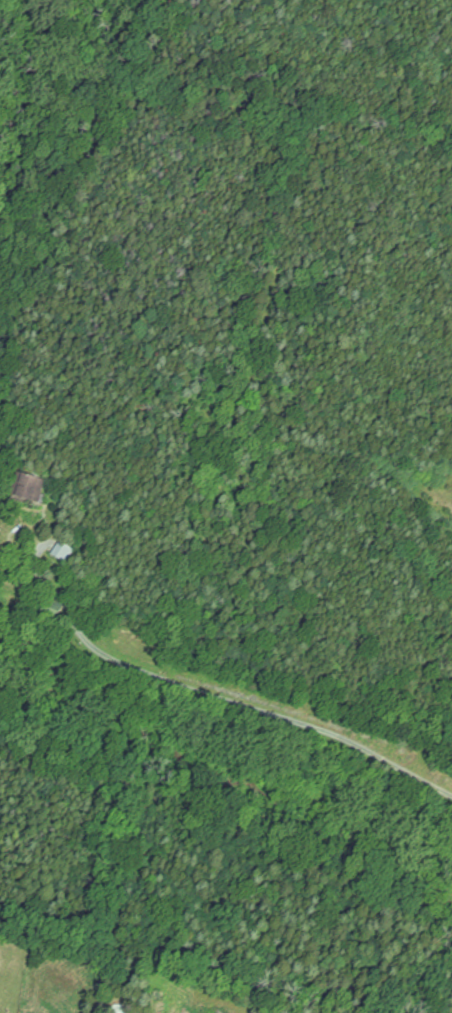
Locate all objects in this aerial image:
building: (31, 489)
building: (65, 552)
building: (54, 616)
road: (267, 711)

